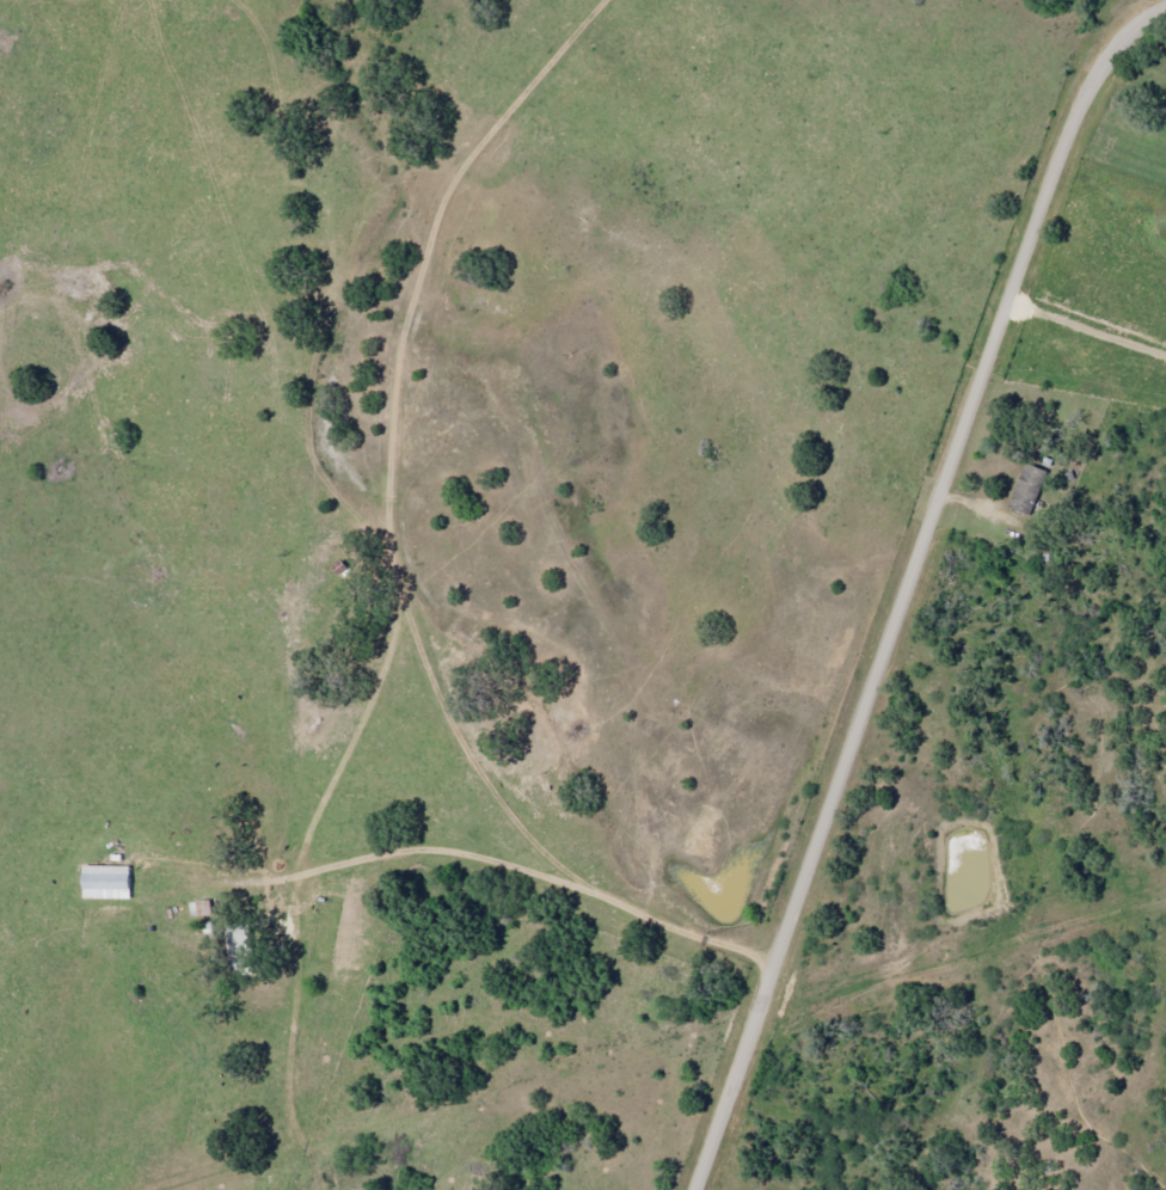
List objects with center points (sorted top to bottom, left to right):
road: (1127, 22)
building: (1025, 487)
road: (910, 585)
building: (110, 882)
building: (197, 907)

